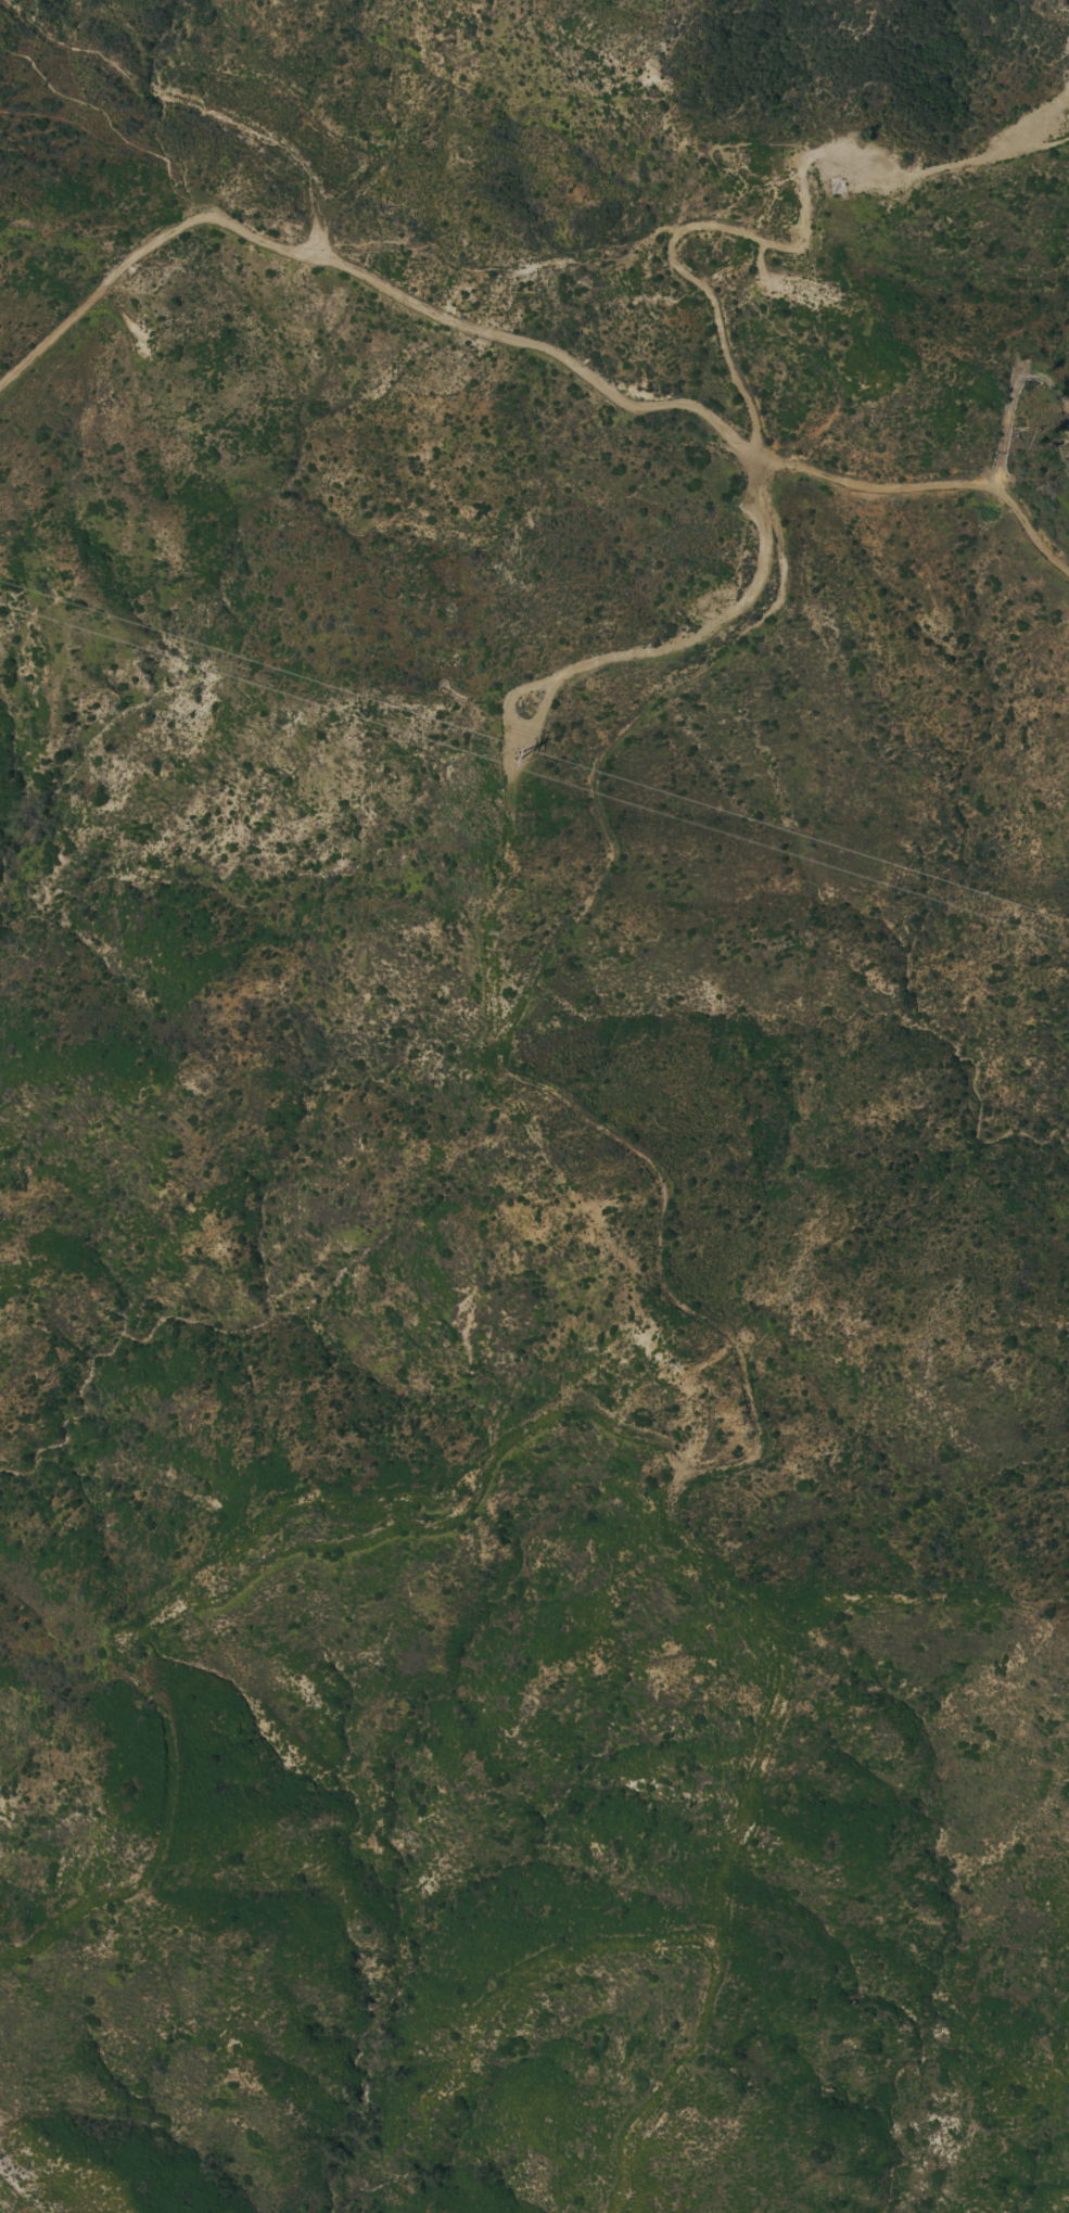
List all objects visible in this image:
road: (64, 120)
park: (1029, 123)
road: (112, 129)
road: (1059, 141)
road: (18, 145)
road: (31, 214)
road: (669, 228)
road: (380, 287)
road: (123, 318)
road: (729, 368)
road: (1013, 399)
road: (946, 484)
power tower: (516, 767)

